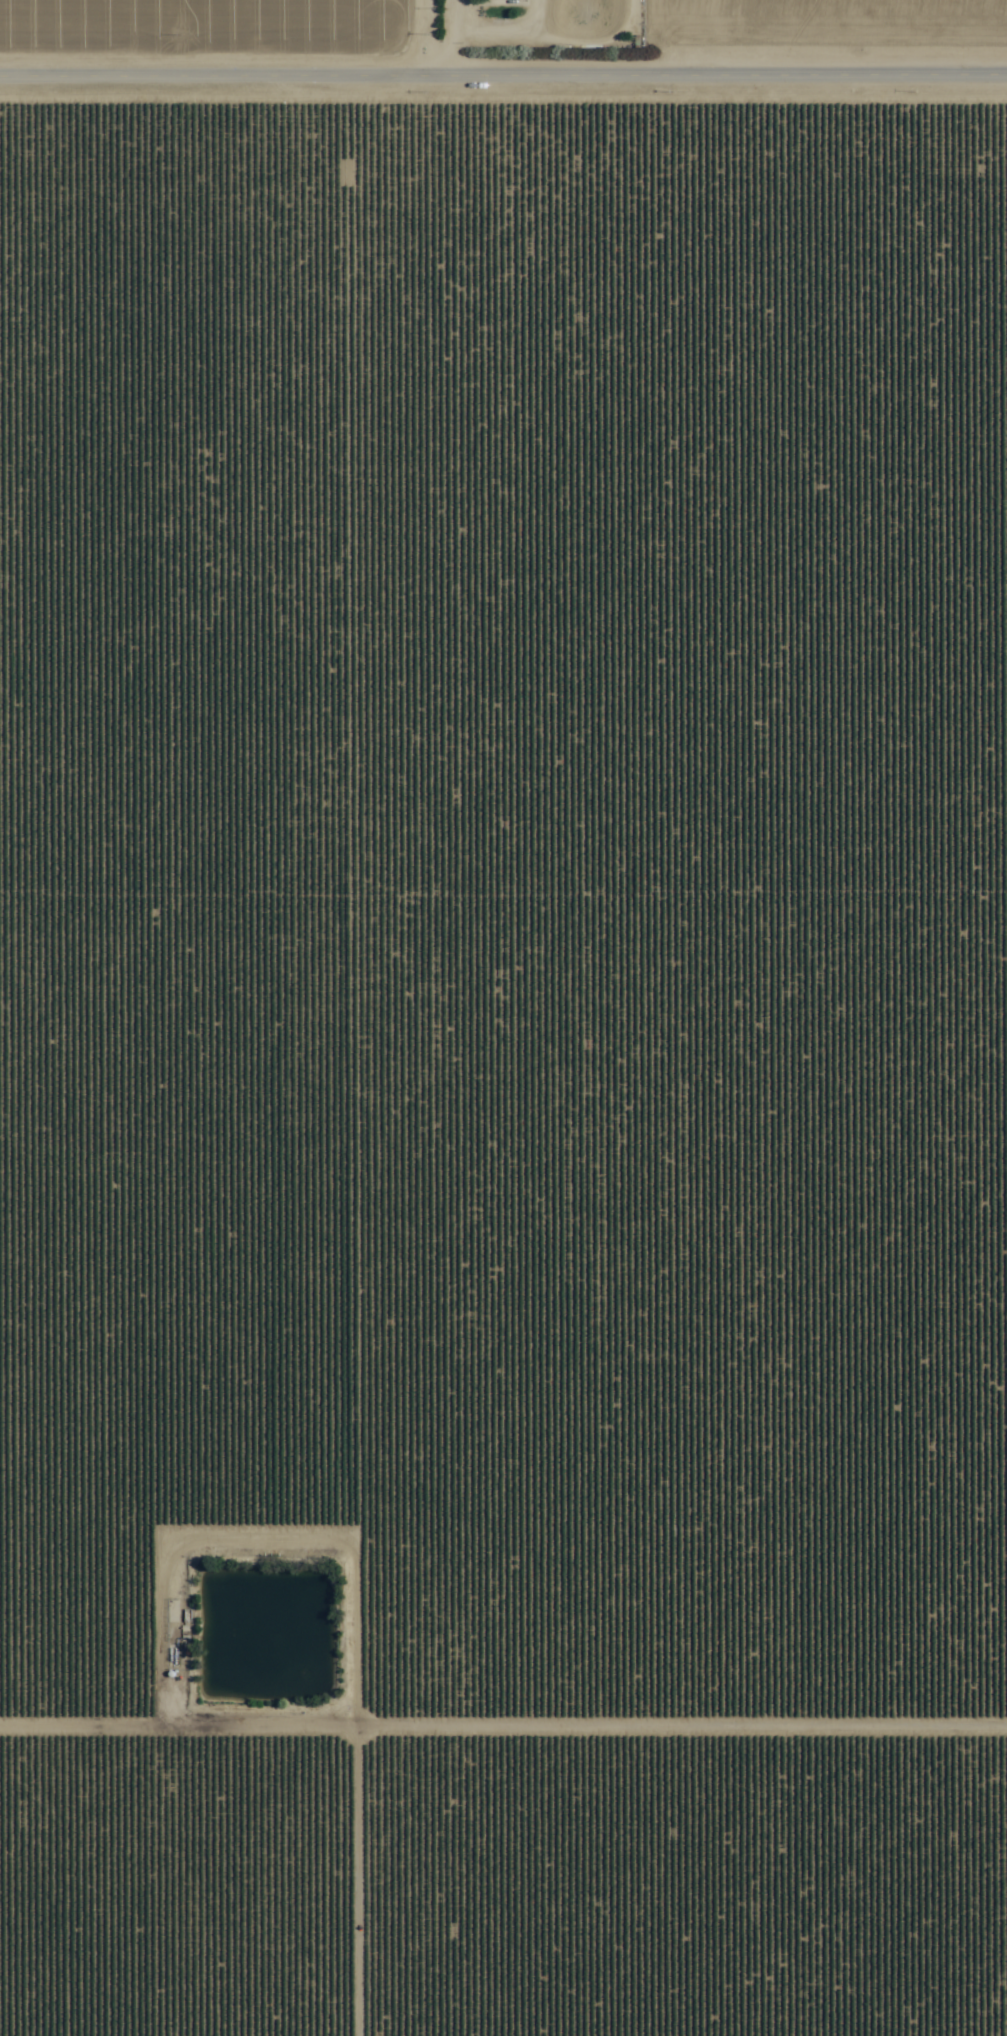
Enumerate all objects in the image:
wastewater plant: (587, 18)
road: (389, 39)
road: (503, 77)
crop: (503, 1018)
wastewater plant: (264, 1635)
road: (503, 1727)
wastewater plant: (296, 1753)

